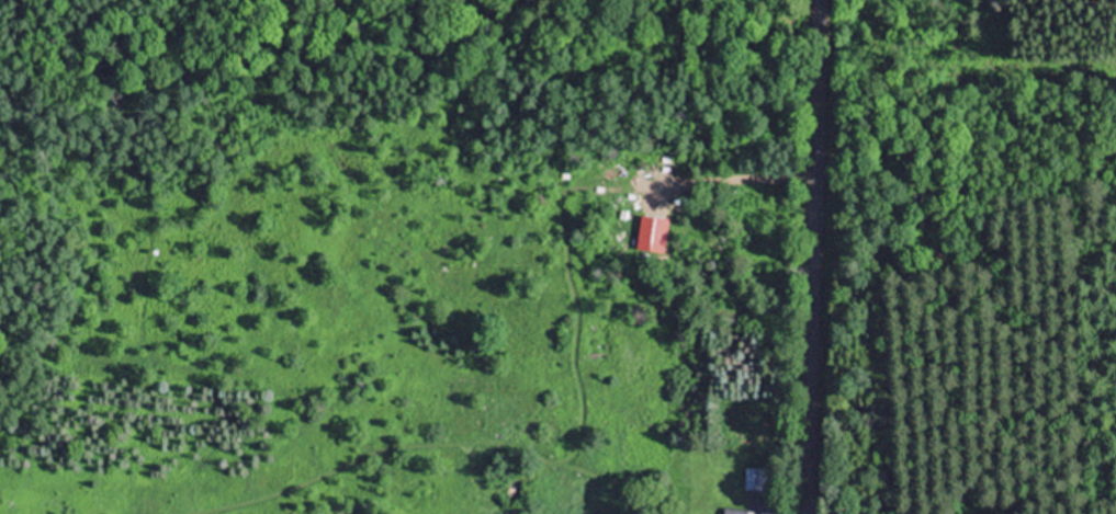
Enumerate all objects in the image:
road: (746, 176)
building: (651, 232)
road: (813, 256)
building: (754, 478)
building: (736, 511)

